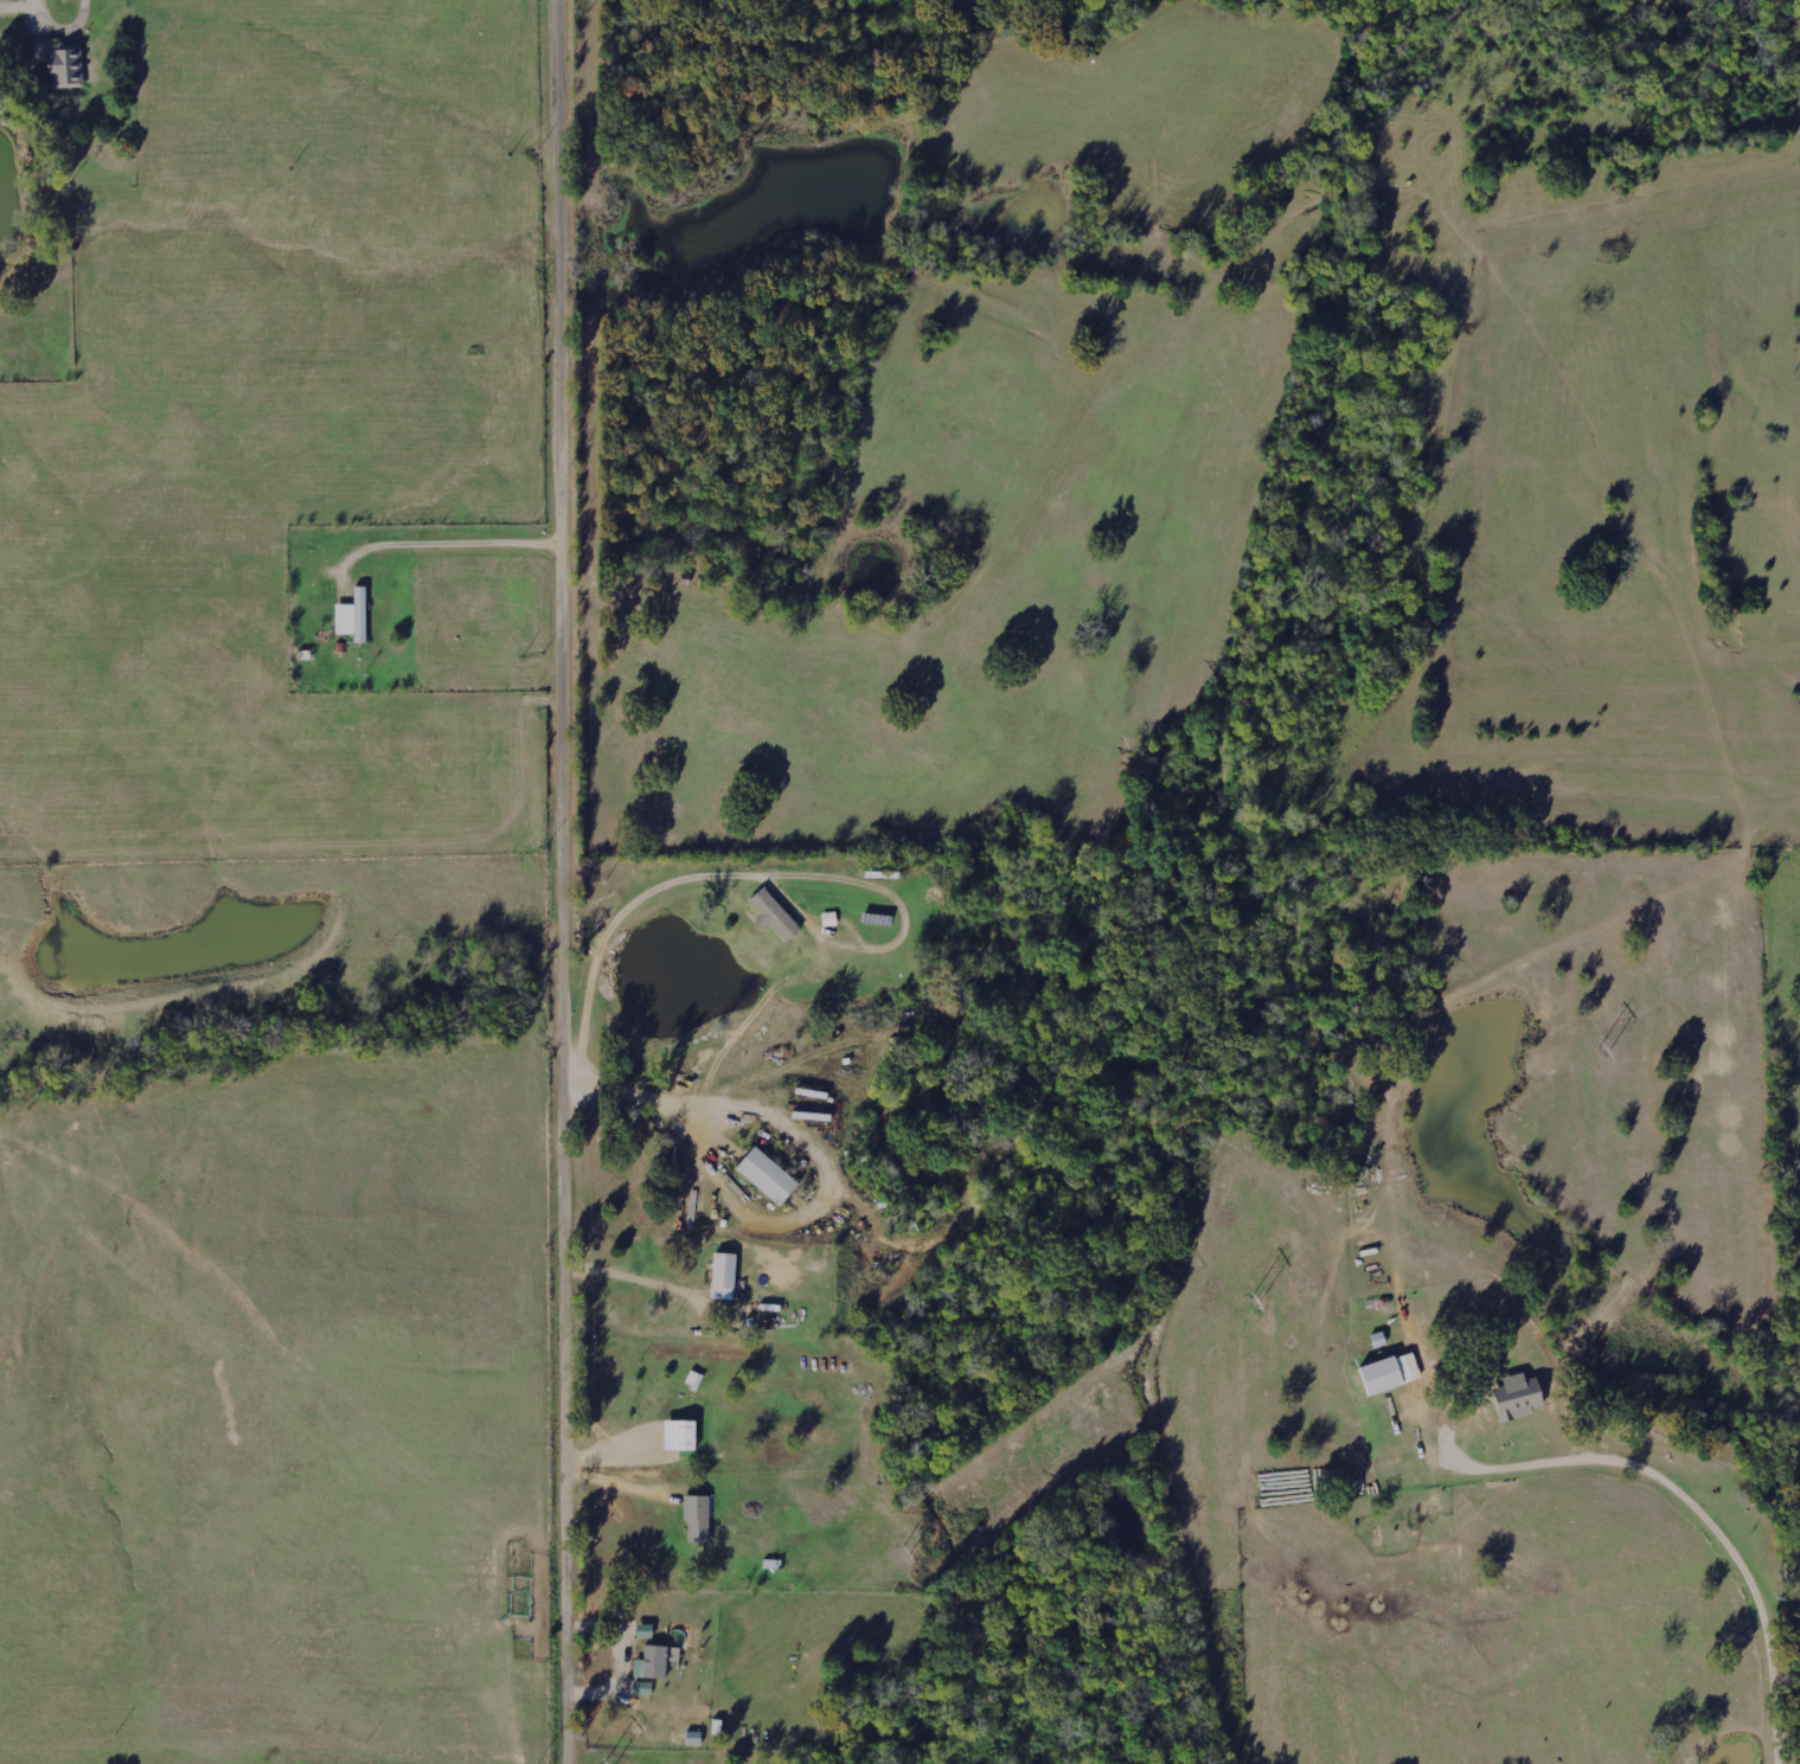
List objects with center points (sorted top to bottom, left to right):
road: (480, 8)
building: (62, 63)
building: (353, 616)
road: (570, 881)
building: (774, 913)
building: (767, 1175)
road: (761, 1202)
building: (723, 1276)
road: (1661, 1308)
building: (1389, 1372)
building: (694, 1379)
building: (1518, 1397)
building: (679, 1435)
building: (697, 1518)
building: (642, 1631)
building: (652, 1662)

